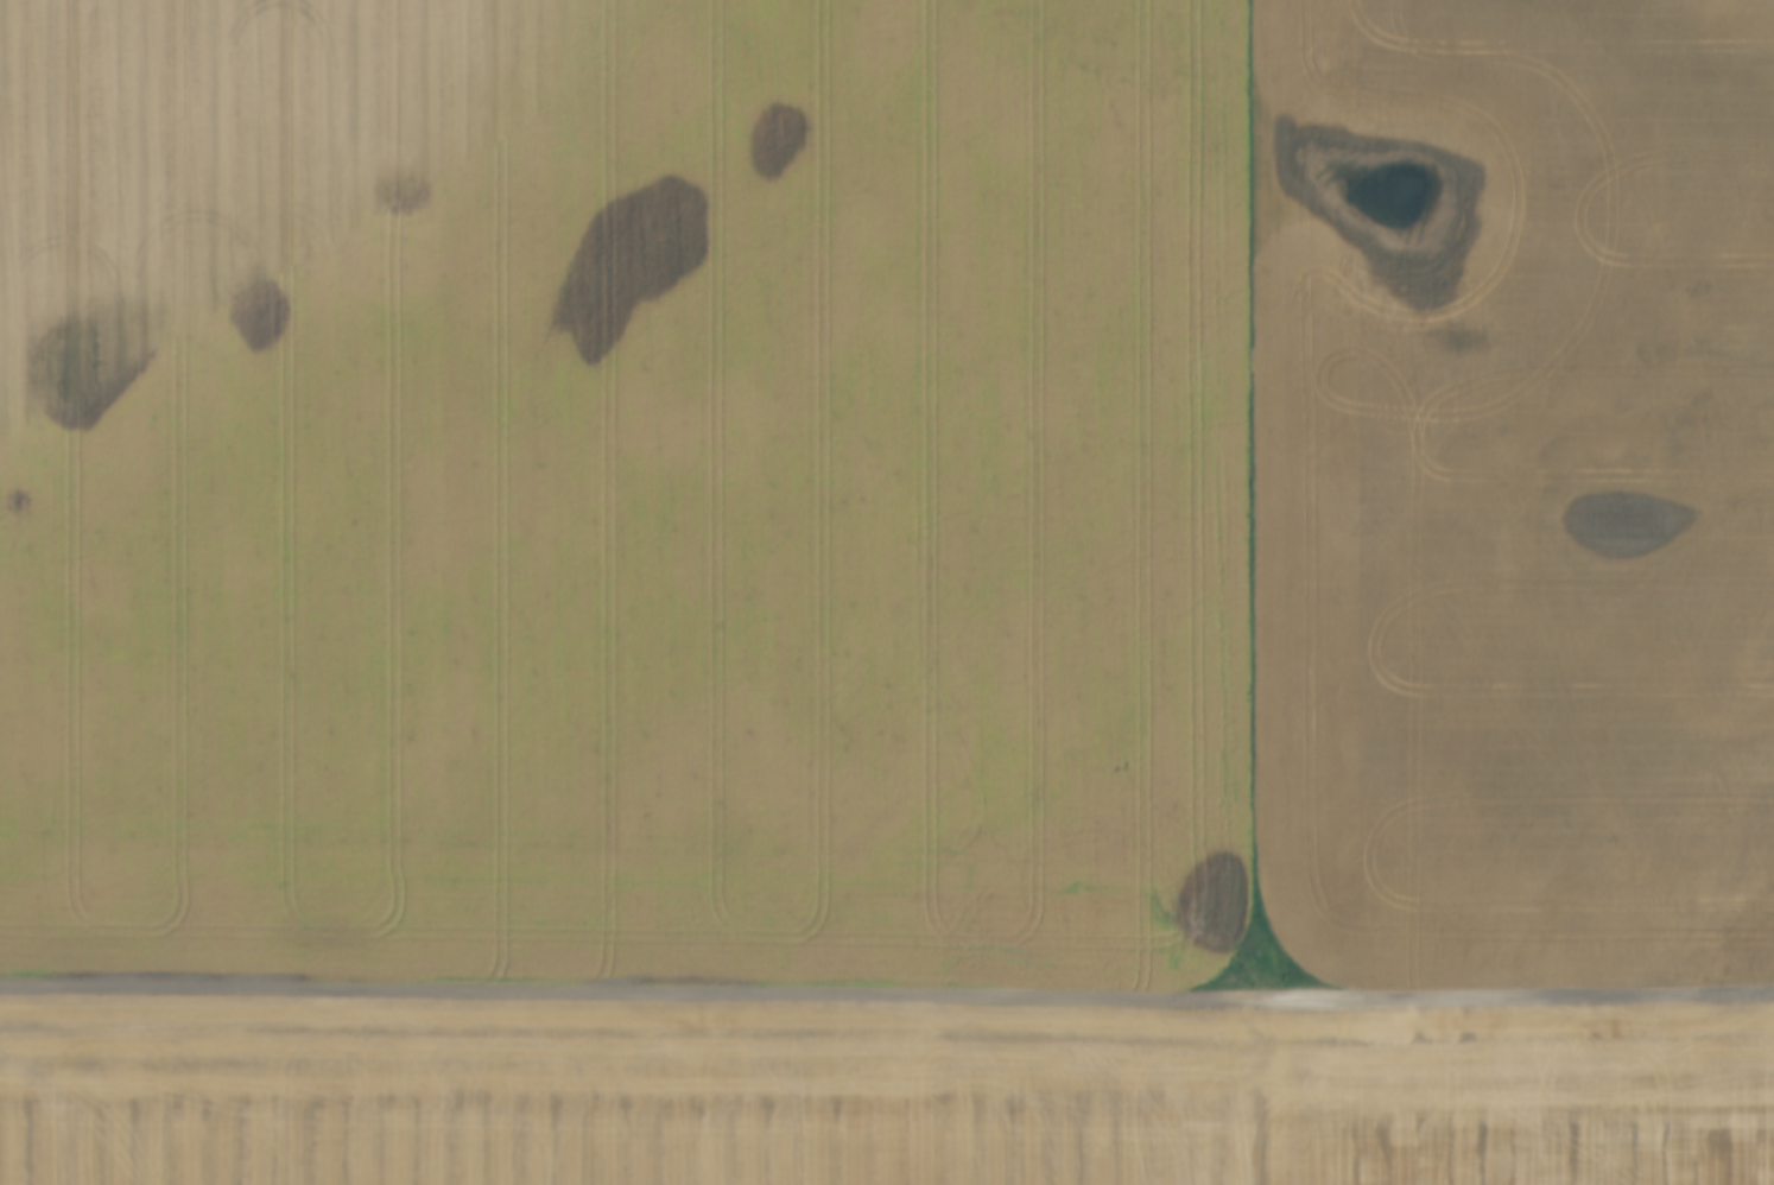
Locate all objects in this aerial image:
road: (886, 984)

